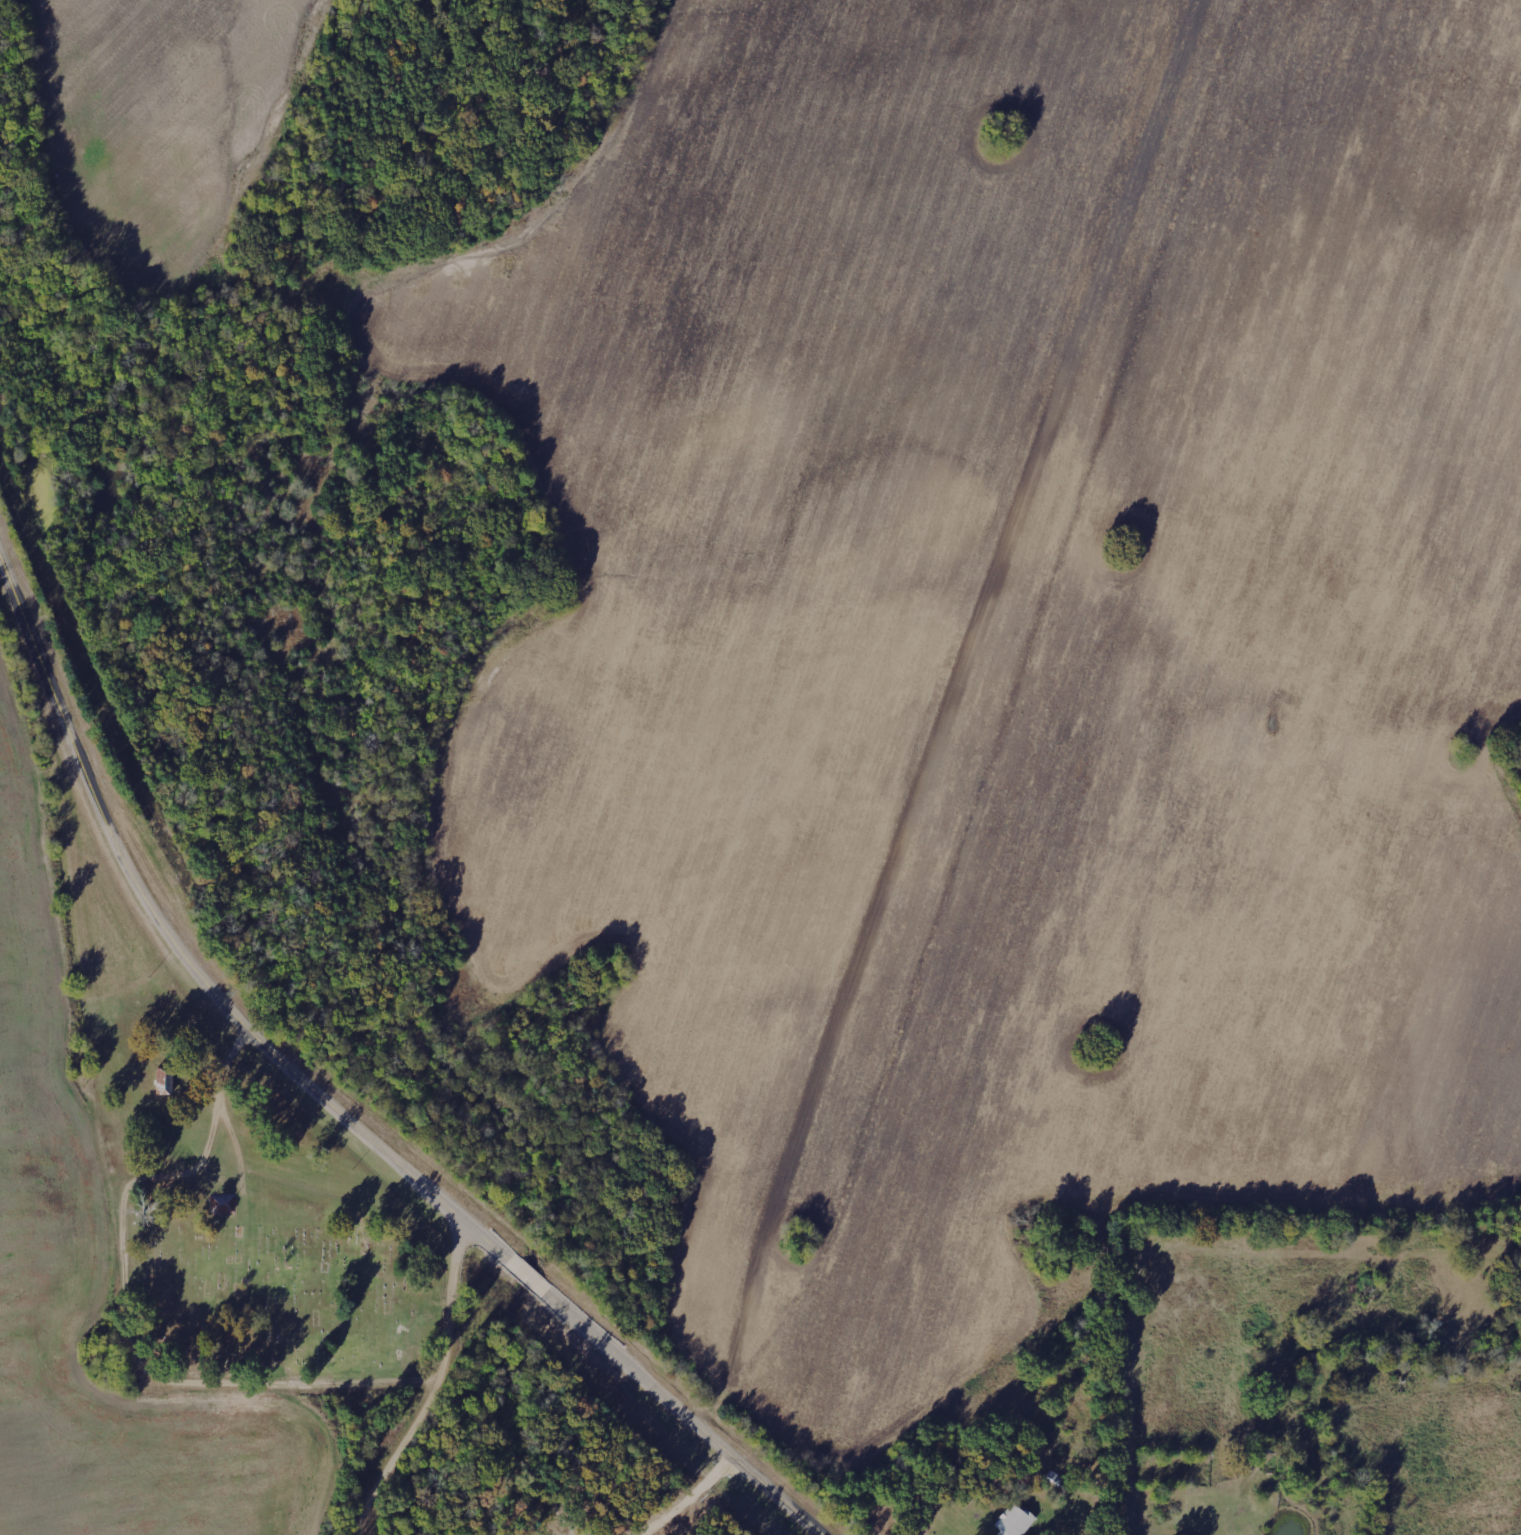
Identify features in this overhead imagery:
road: (330, 1095)
park: (263, 1278)
road: (459, 1303)
road: (1139, 1391)
road: (400, 1460)
building: (1017, 1521)

